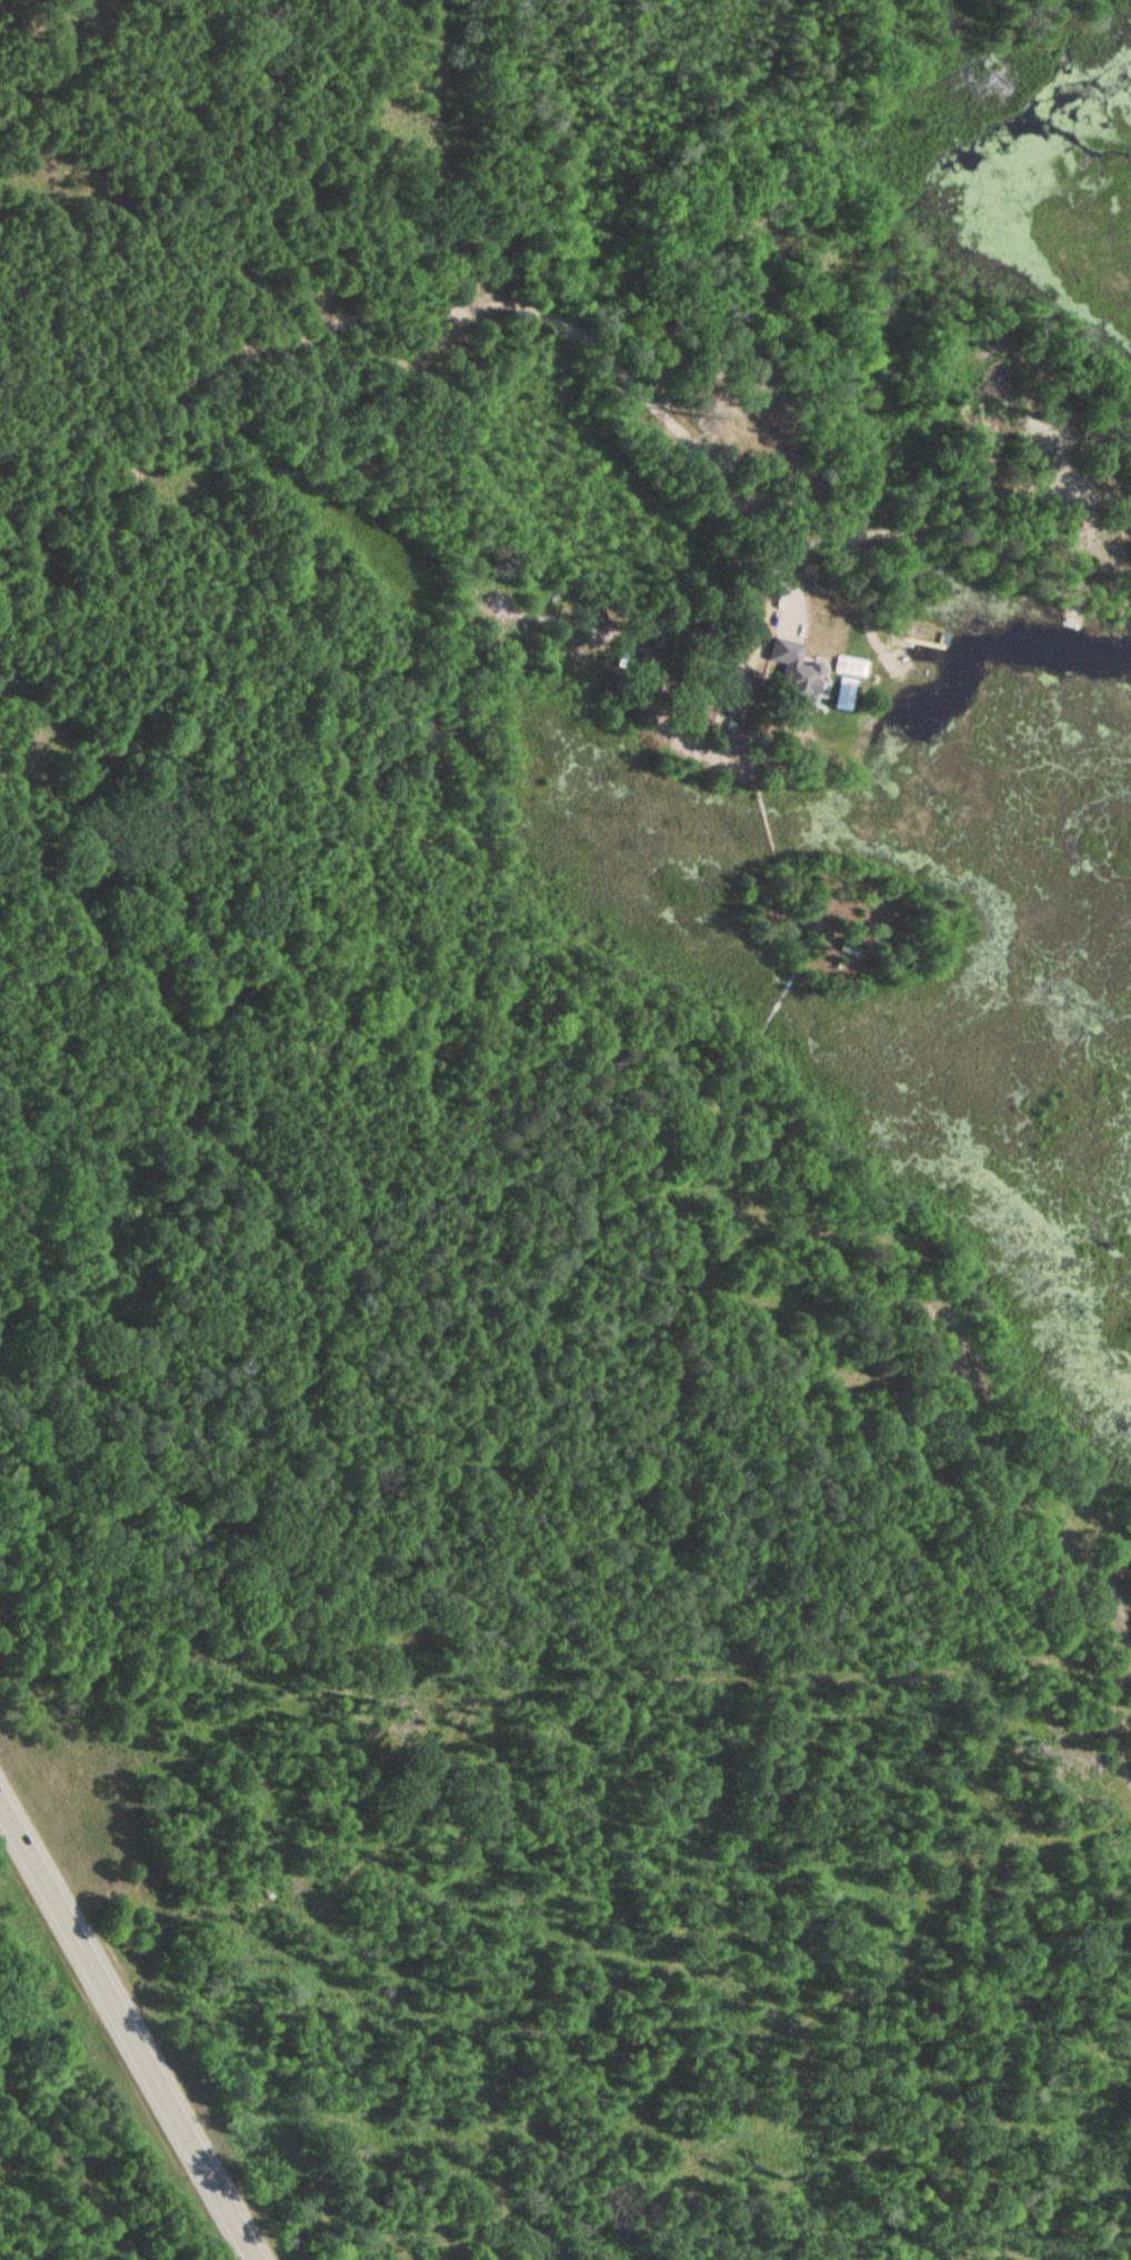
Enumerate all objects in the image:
road: (424, 310)
building: (794, 671)
road: (131, 2027)

